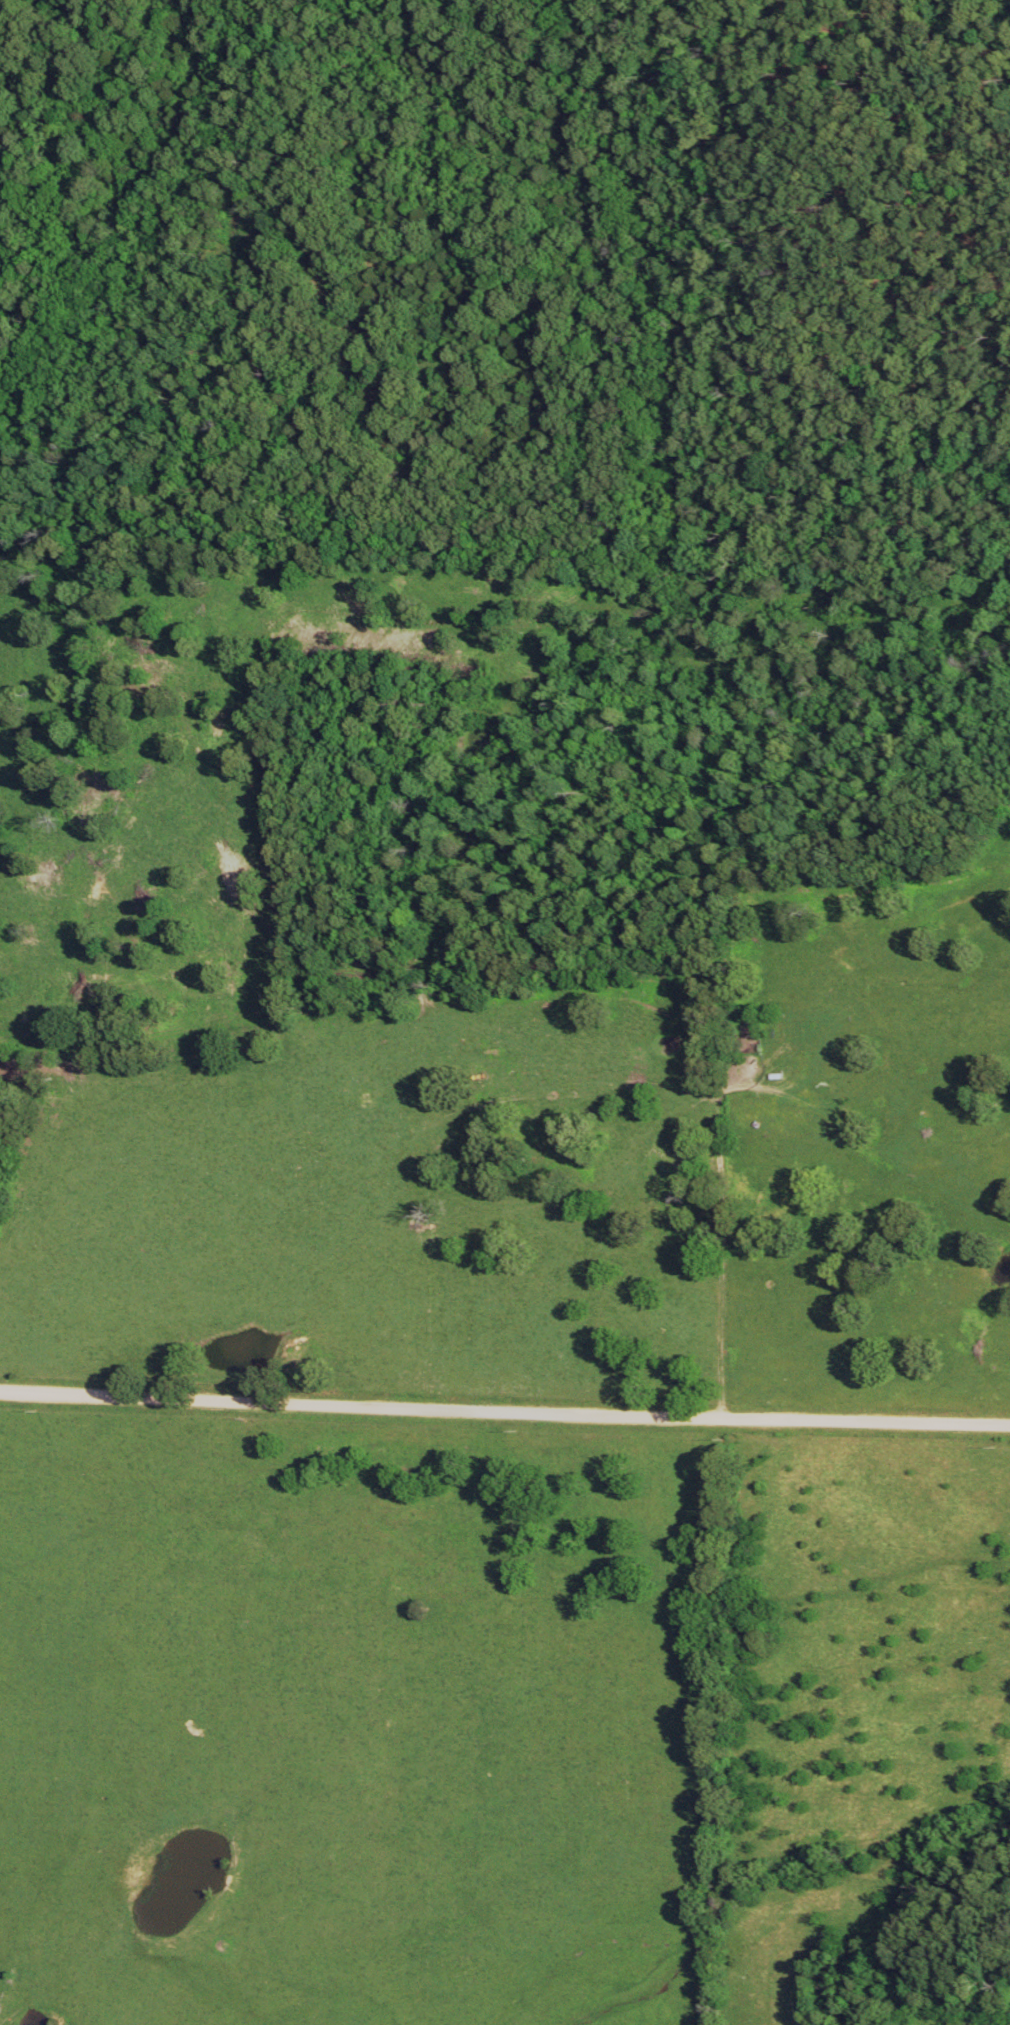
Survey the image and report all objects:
park: (509, 252)
road: (504, 1409)

